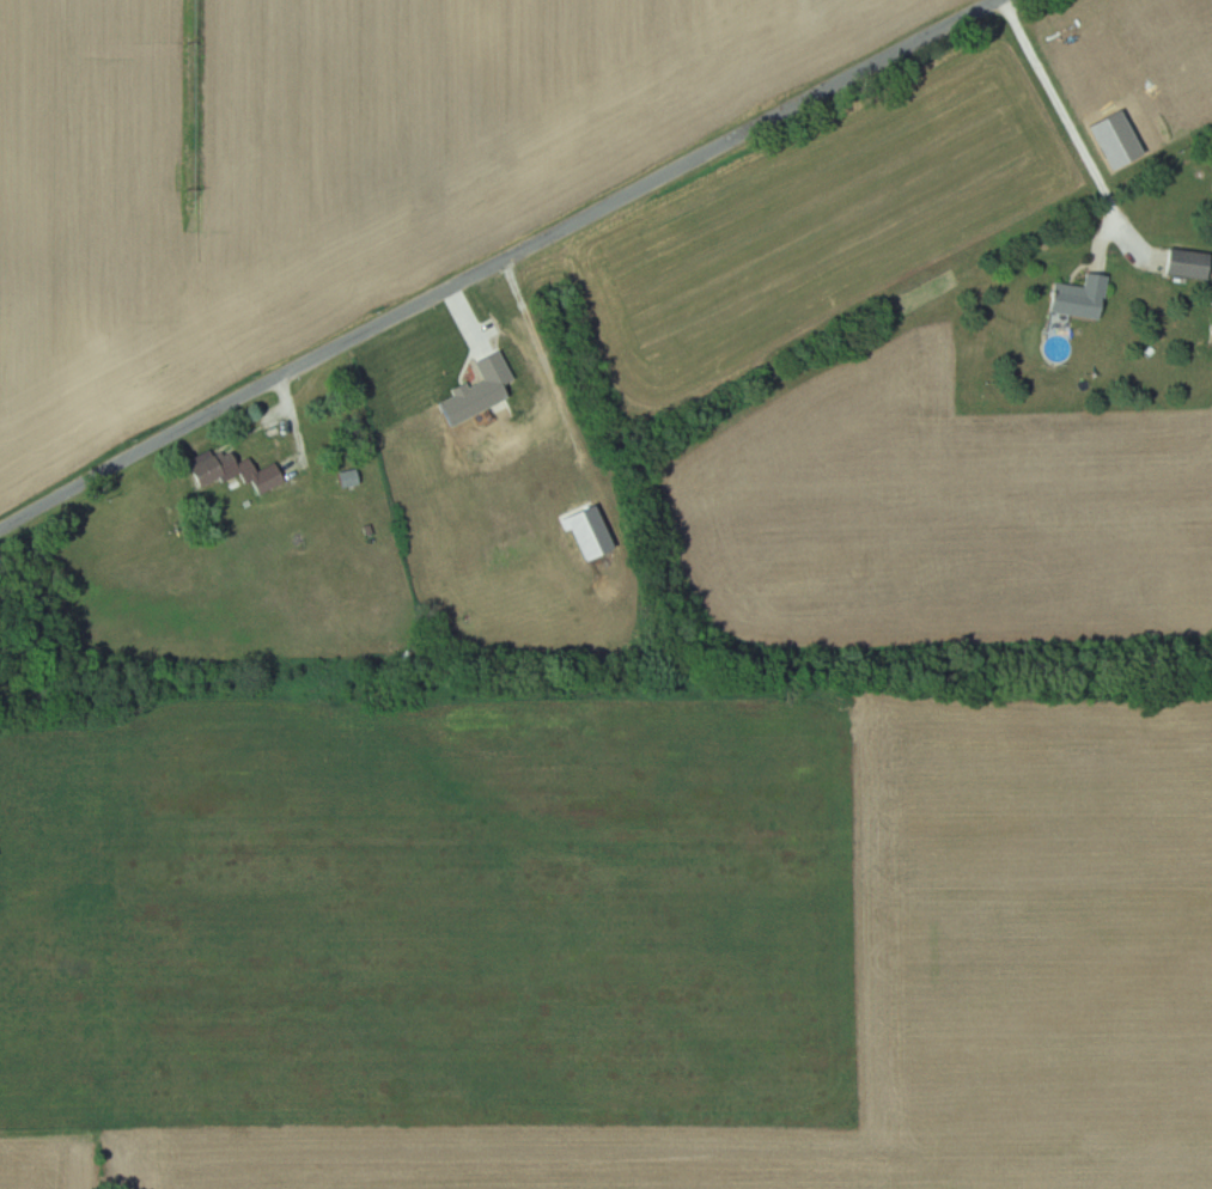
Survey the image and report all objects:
road: (1072, 124)
road: (499, 263)
building: (1188, 264)
building: (1080, 298)
building: (214, 468)
building: (266, 477)

